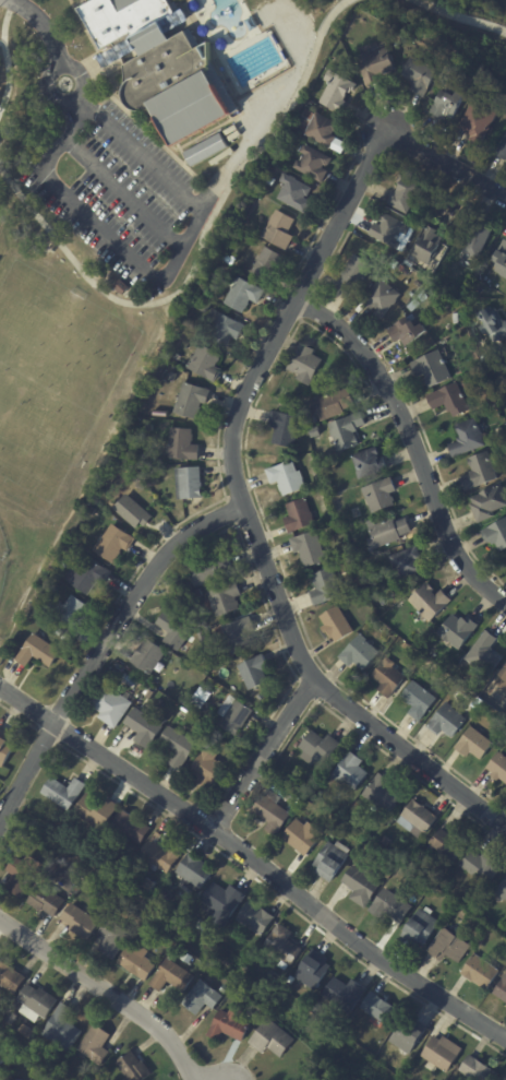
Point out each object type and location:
park: (496, 7)
road: (460, 16)
road: (45, 24)
building: (280, 32)
flagpole: (77, 43)
flagpole: (75, 46)
flagpole: (80, 47)
road: (0, 49)
building: (160, 63)
building: (375, 64)
road: (50, 74)
building: (419, 75)
building: (337, 92)
building: (447, 104)
building: (479, 121)
building: (317, 127)
building: (204, 149)
building: (502, 149)
road: (140, 153)
road: (448, 157)
building: (313, 163)
building: (270, 180)
road: (125, 192)
building: (294, 193)
building: (403, 193)
building: (278, 229)
building: (390, 232)
building: (477, 240)
road: (186, 241)
road: (197, 245)
building: (233, 249)
building: (424, 252)
building: (44, 257)
building: (229, 259)
building: (501, 260)
building: (393, 263)
building: (266, 265)
building: (222, 268)
building: (400, 268)
building: (352, 274)
building: (121, 288)
building: (439, 292)
building: (242, 294)
building: (381, 298)
building: (493, 324)
building: (222, 328)
building: (406, 331)
building: (204, 364)
building: (304, 364)
building: (432, 369)
building: (171, 377)
building: (462, 383)
building: (449, 400)
building: (190, 401)
building: (333, 404)
building: (493, 414)
building: (313, 420)
building: (284, 428)
building: (346, 430)
building: (313, 431)
building: (468, 438)
road: (413, 440)
building: (181, 446)
building: (369, 463)
building: (479, 472)
building: (286, 478)
building: (188, 484)
building: (379, 495)
building: (487, 503)
road: (245, 509)
building: (168, 511)
building: (132, 512)
building: (298, 515)
building: (386, 533)
building: (496, 534)
building: (112, 544)
building: (308, 549)
building: (406, 563)
building: (13, 569)
building: (210, 570)
building: (353, 571)
building: (87, 575)
building: (354, 580)
building: (188, 588)
building: (324, 588)
building: (358, 588)
building: (197, 594)
building: (224, 601)
building: (429, 603)
building: (71, 613)
building: (335, 624)
building: (57, 631)
building: (173, 631)
building: (457, 631)
building: (237, 636)
building: (64, 637)
building: (203, 638)
building: (70, 642)
road: (104, 648)
building: (421, 651)
building: (36, 652)
building: (359, 654)
building: (483, 655)
building: (147, 656)
building: (254, 673)
building: (387, 679)
building: (502, 680)
building: (129, 681)
building: (148, 693)
building: (202, 695)
building: (418, 701)
building: (184, 703)
building: (110, 707)
building: (183, 712)
building: (236, 719)
building: (446, 722)
building: (143, 728)
building: (473, 745)
building: (4, 747)
building: (178, 748)
building: (318, 749)
road: (266, 755)
building: (497, 768)
building: (207, 769)
building: (349, 773)
building: (278, 788)
building: (62, 791)
building: (381, 795)
building: (288, 799)
building: (95, 810)
building: (272, 812)
building: (417, 820)
building: (130, 826)
building: (330, 835)
building: (341, 835)
building: (302, 838)
building: (385, 842)
building: (447, 845)
building: (9, 850)
building: (158, 854)
road: (255, 859)
building: (330, 861)
building: (481, 868)
building: (424, 869)
building: (63, 870)
building: (193, 870)
building: (131, 871)
building: (21, 874)
building: (360, 887)
building: (503, 890)
building: (43, 900)
building: (220, 903)
building: (388, 907)
building: (463, 915)
building: (254, 917)
building: (77, 921)
building: (200, 925)
building: (419, 929)
building: (111, 938)
building: (281, 943)
building: (447, 947)
building: (185, 957)
building: (135, 961)
building: (312, 970)
building: (480, 973)
building: (170, 975)
building: (9, 977)
building: (136, 984)
building: (224, 988)
road: (107, 989)
building: (501, 990)
building: (302, 993)
building: (344, 994)
building: (200, 997)
building: (34, 1002)
building: (378, 1008)
building: (250, 1012)
building: (10, 1019)
building: (228, 1023)
building: (60, 1028)
building: (407, 1034)
building: (270, 1039)
building: (94, 1044)
building: (387, 1053)
building: (441, 1053)
building: (10, 1054)
building: (2, 1057)
building: (132, 1067)
building: (477, 1069)
building: (420, 1078)

